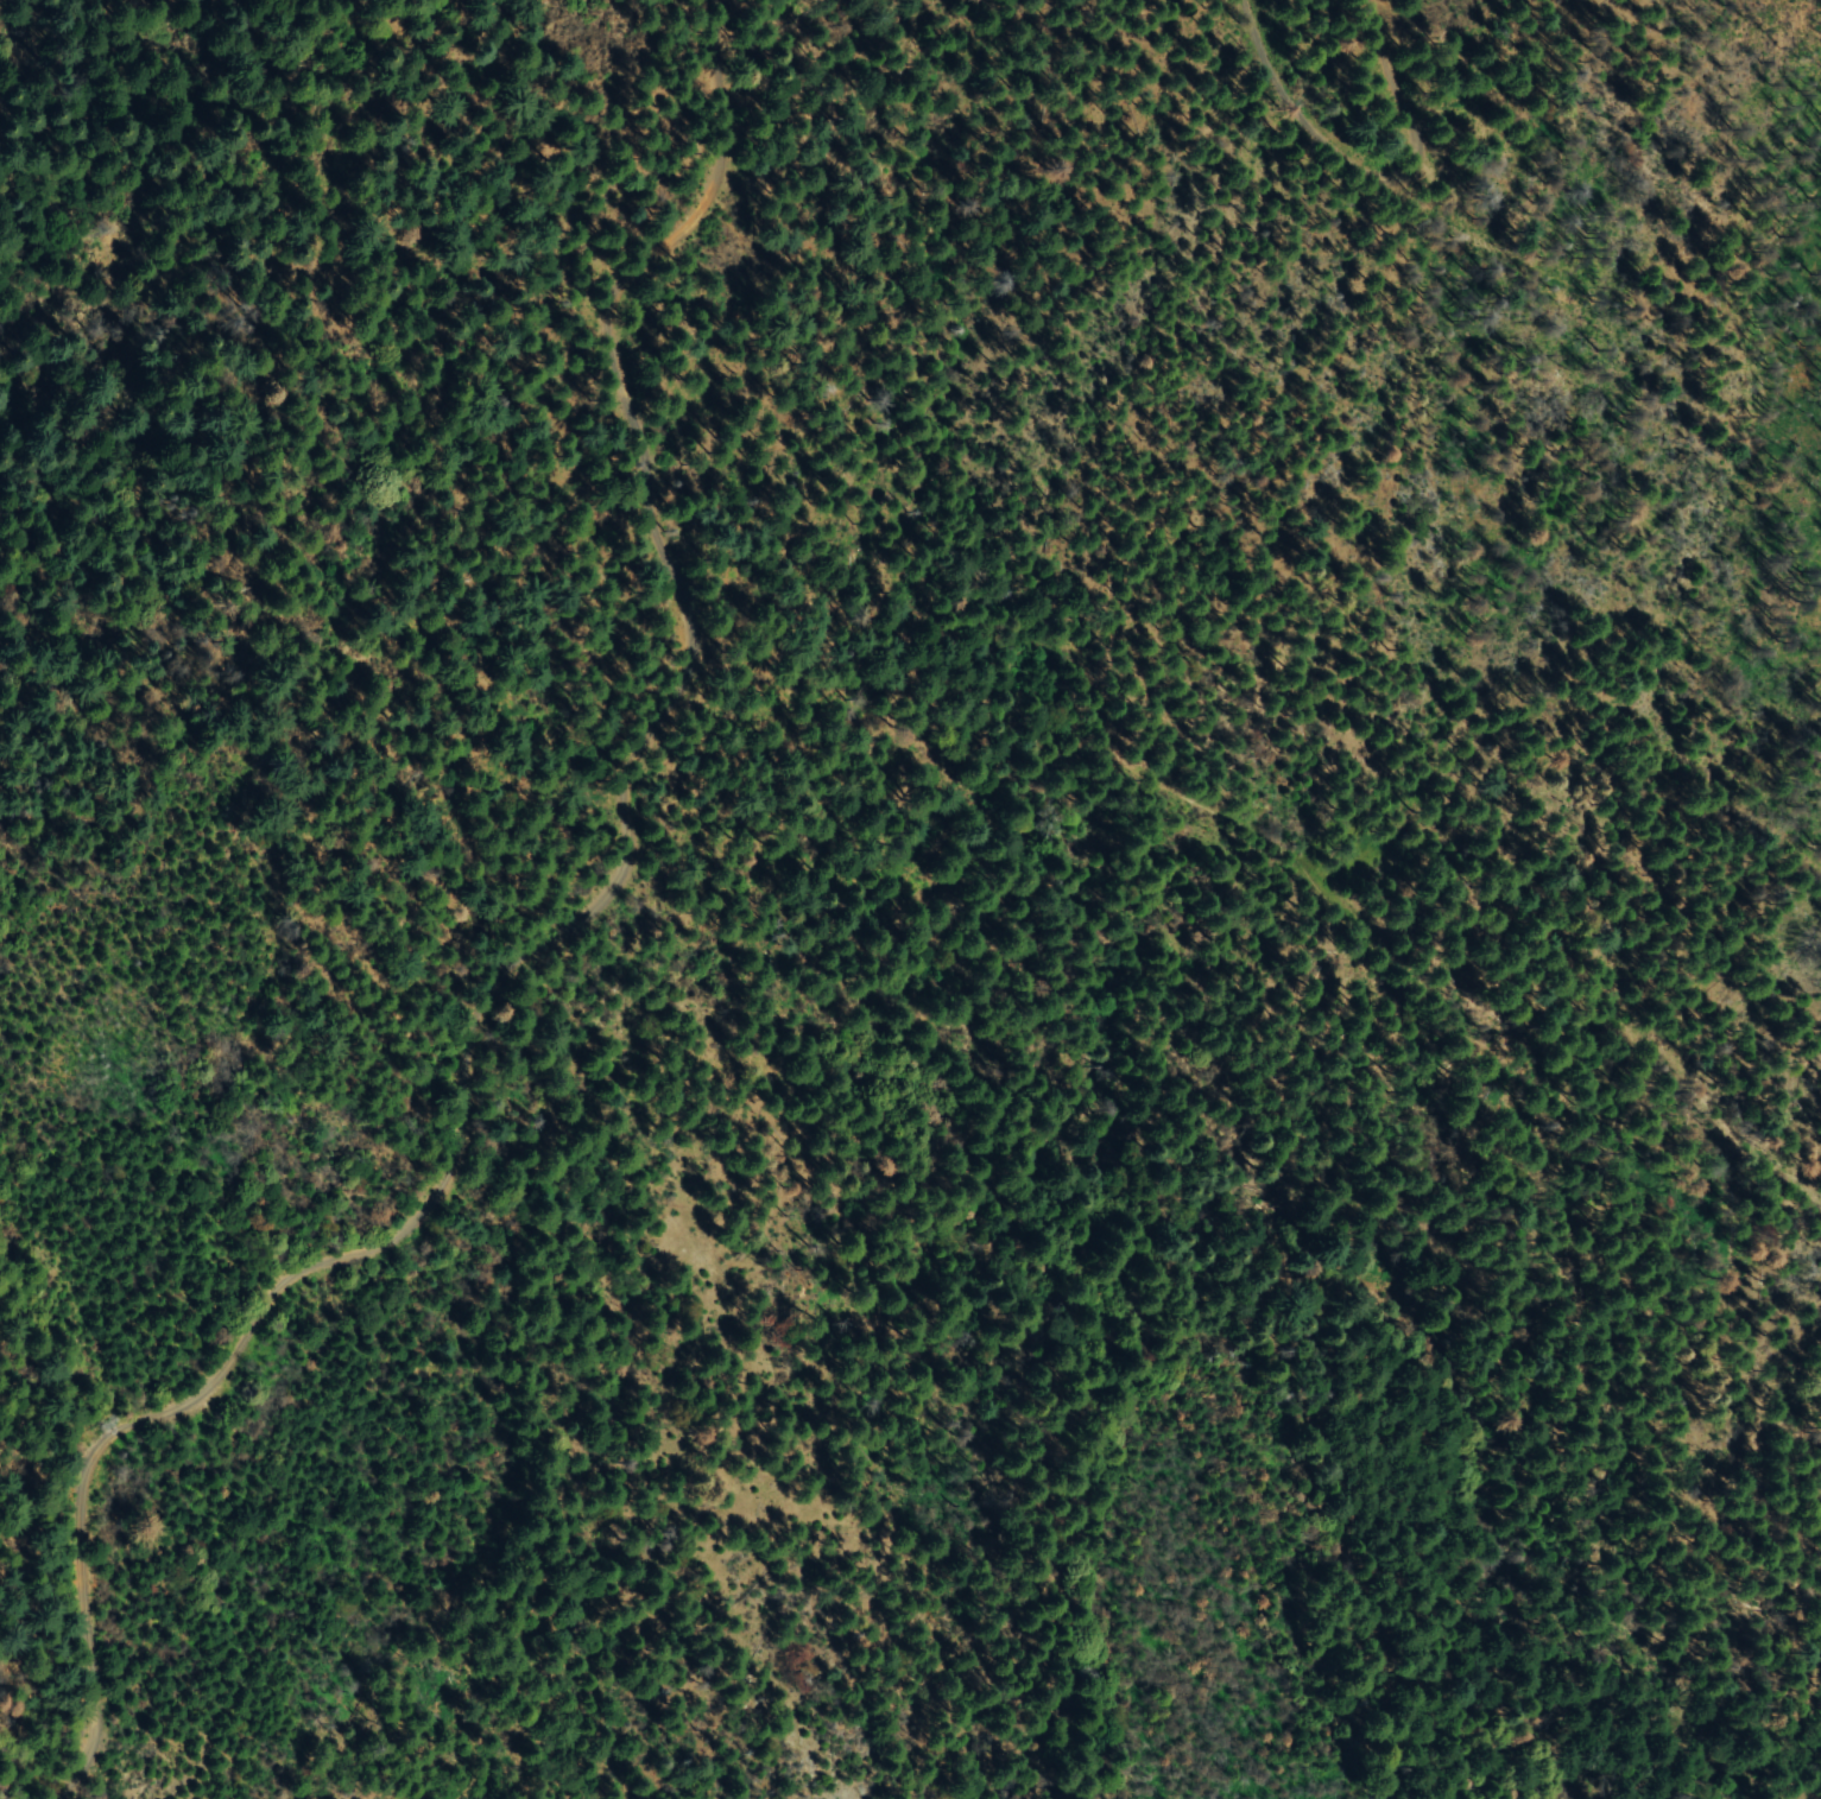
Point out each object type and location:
road: (1332, 129)
road: (1212, 746)
road: (539, 944)

